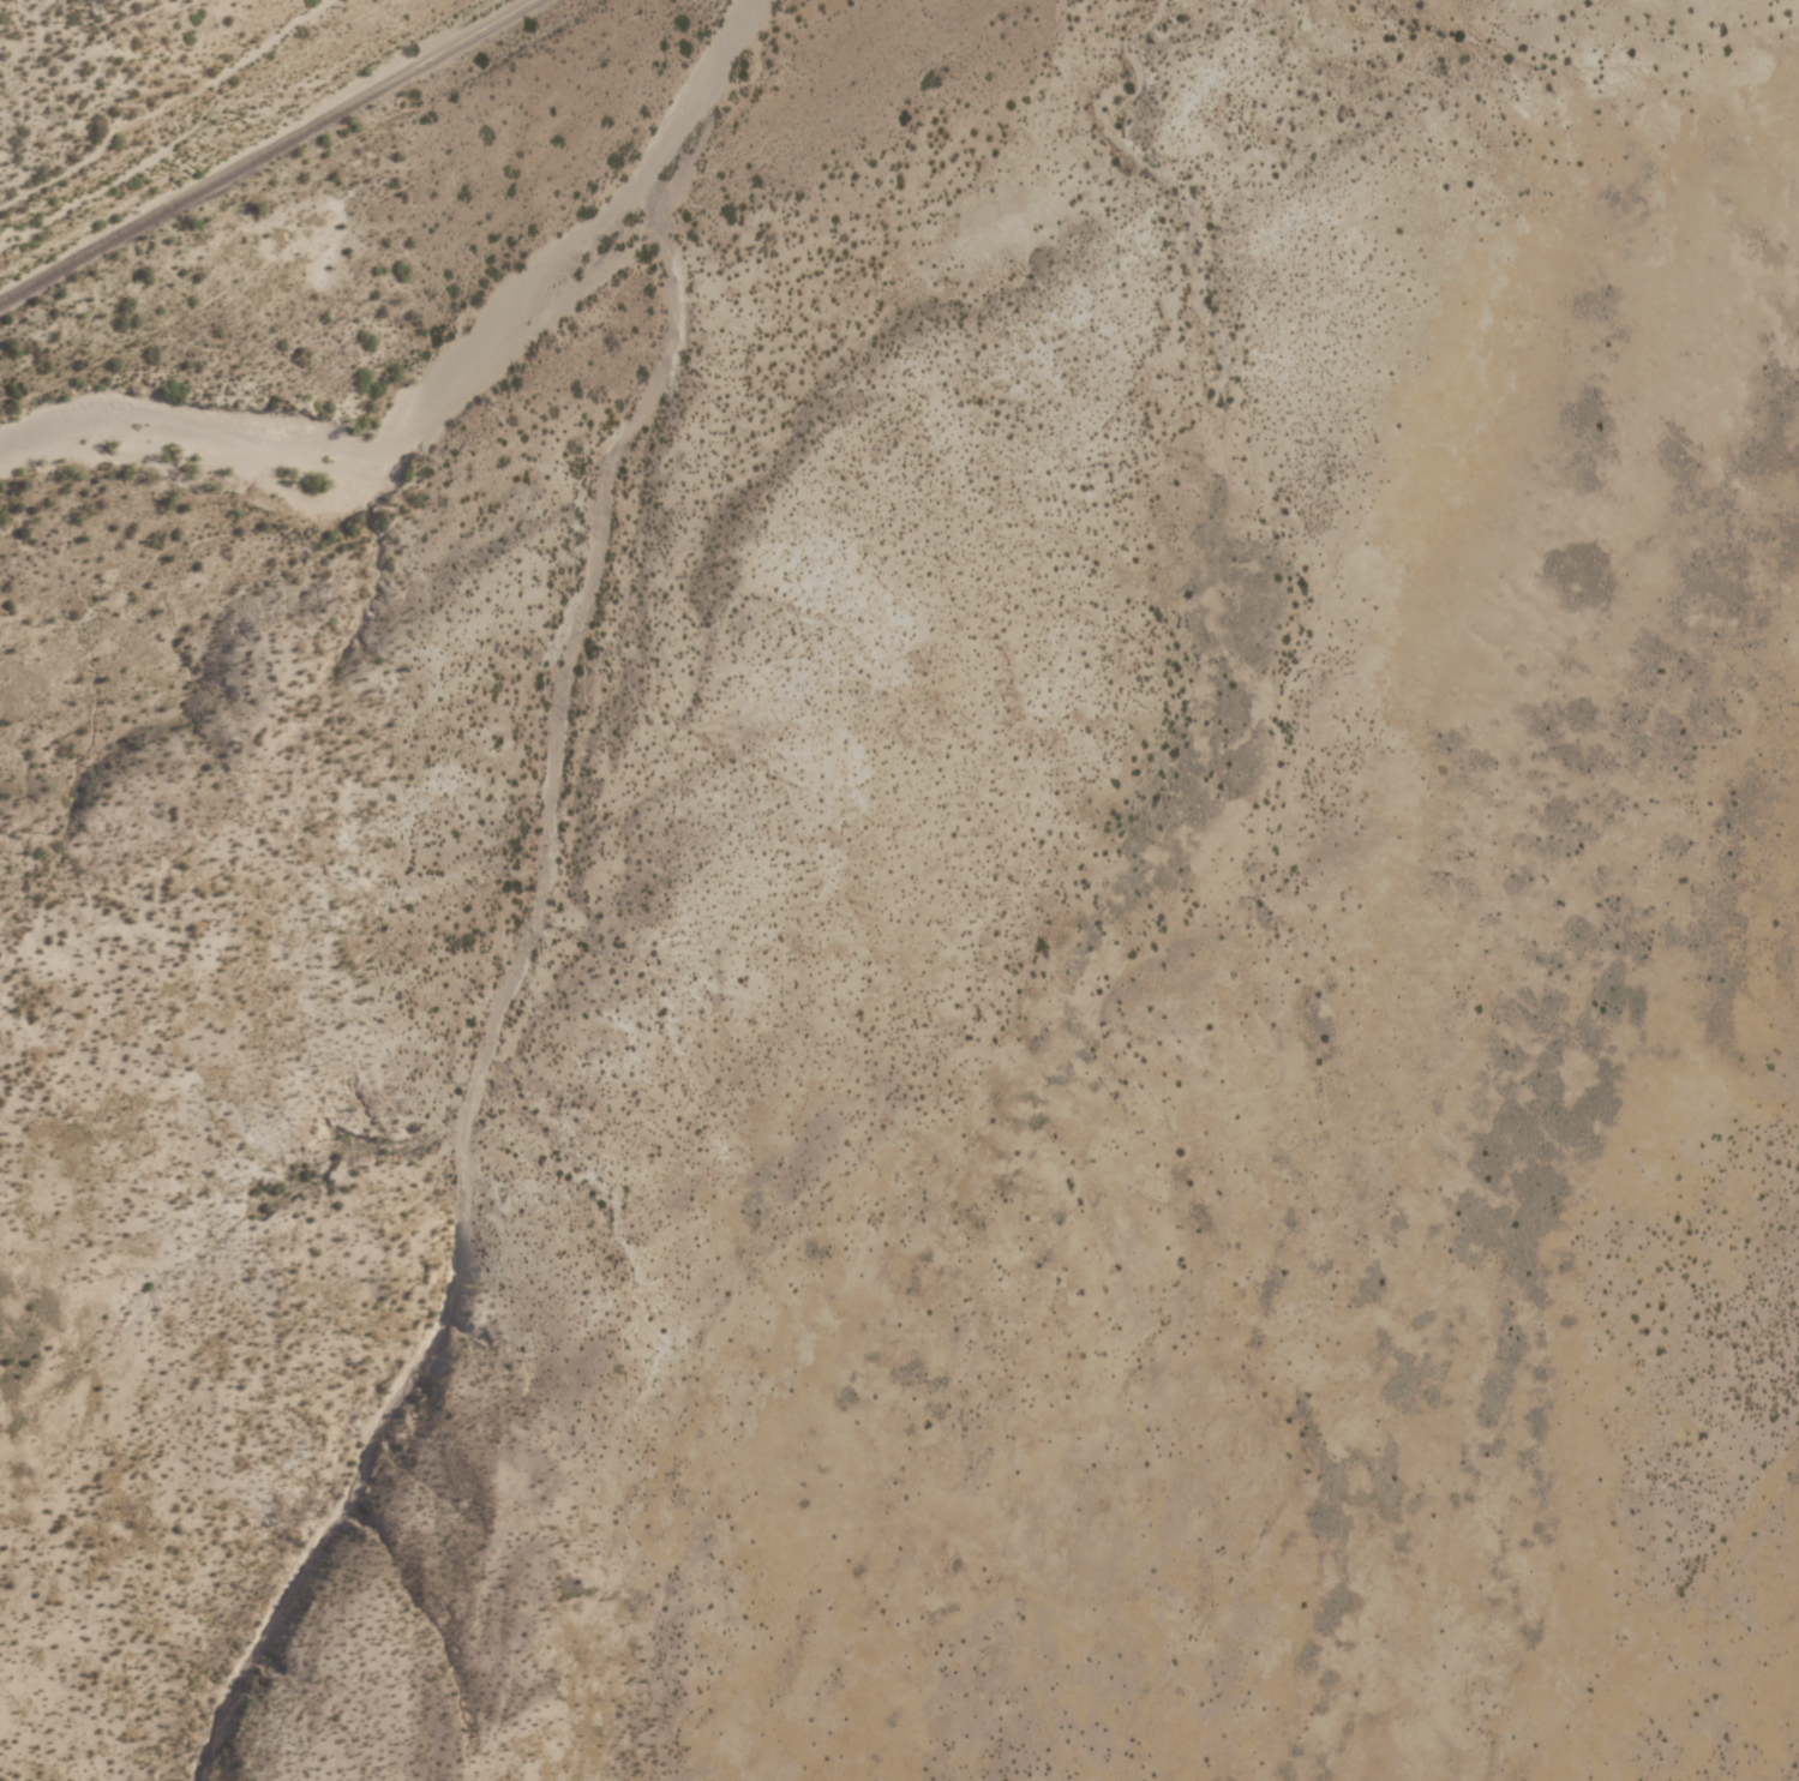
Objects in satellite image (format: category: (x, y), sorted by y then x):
railway: (260, 148)
river: (458, 388)

